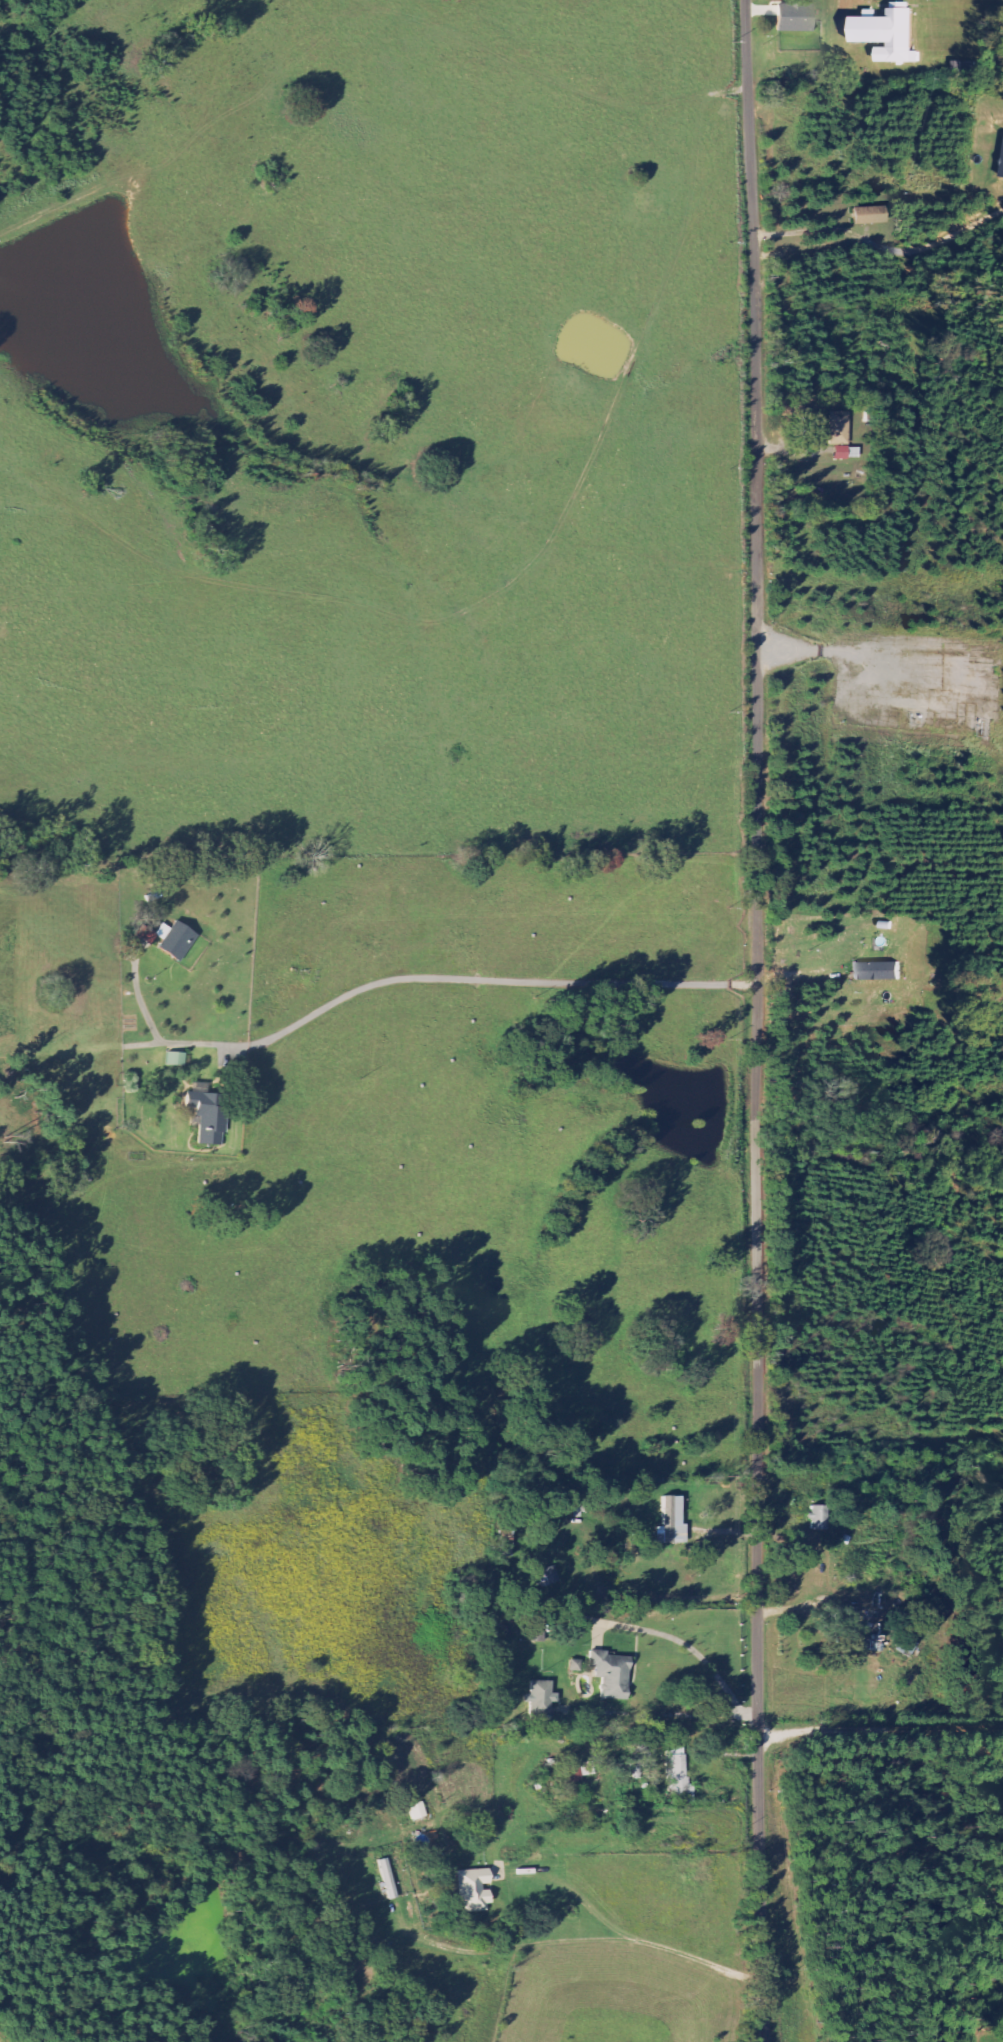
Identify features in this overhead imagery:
building: (795, 17)
building: (890, 33)
building: (1002, 175)
building: (870, 216)
building: (839, 428)
road: (618, 453)
building: (847, 453)
road: (644, 934)
building: (147, 936)
building: (176, 940)
building: (878, 971)
road: (755, 1020)
building: (177, 1059)
building: (209, 1112)
building: (819, 1517)
building: (672, 1522)
building: (847, 1625)
building: (575, 1666)
building: (611, 1674)
building: (541, 1699)
building: (579, 1772)
building: (679, 1778)
building: (418, 1811)
building: (387, 1880)
building: (473, 1890)

